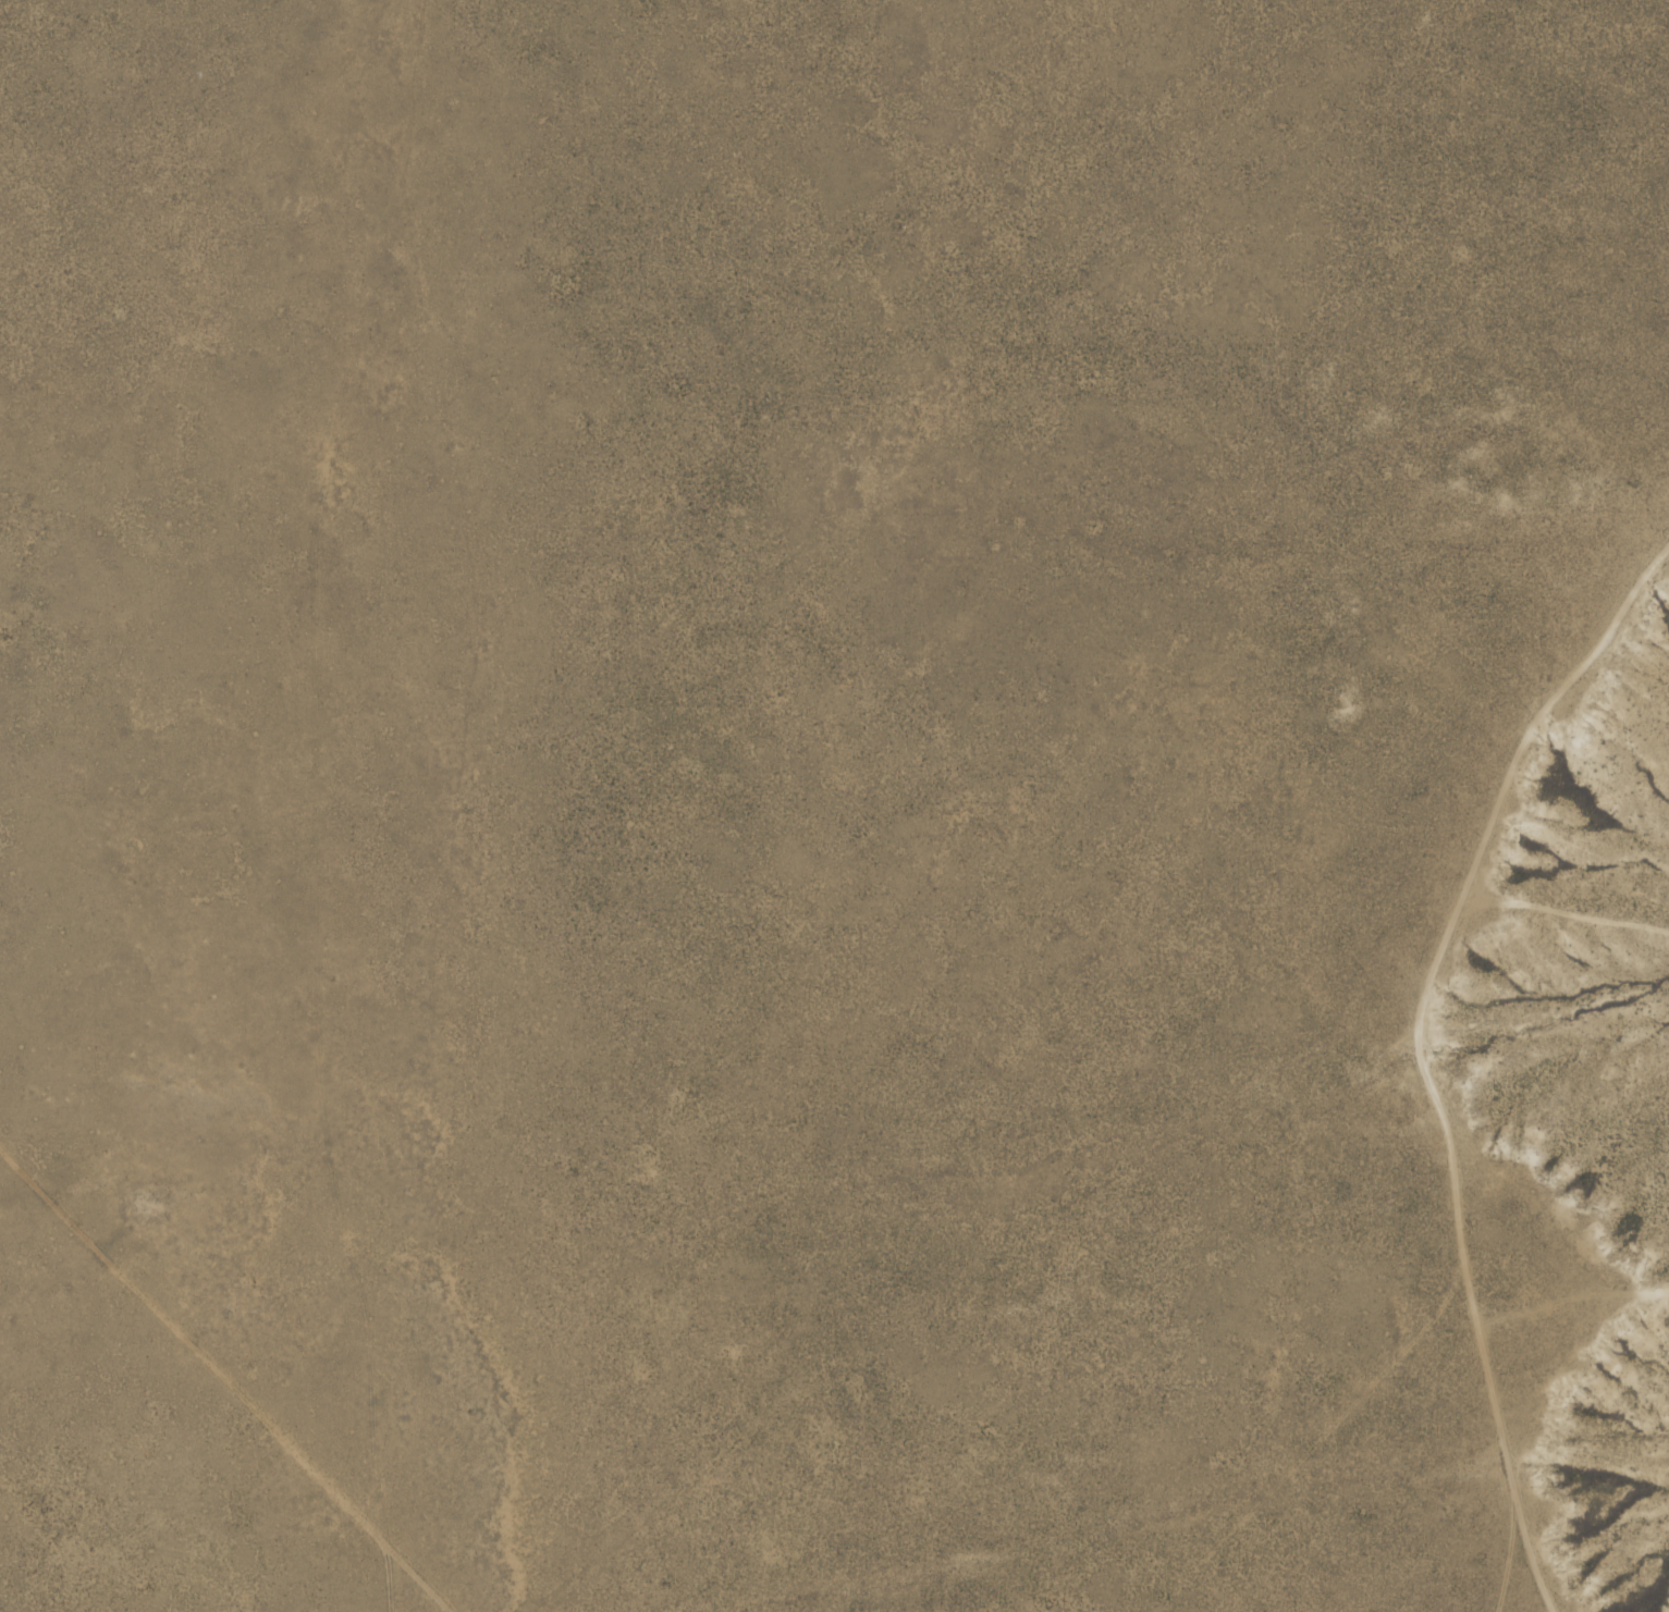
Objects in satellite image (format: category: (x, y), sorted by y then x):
road: (1433, 1058)

